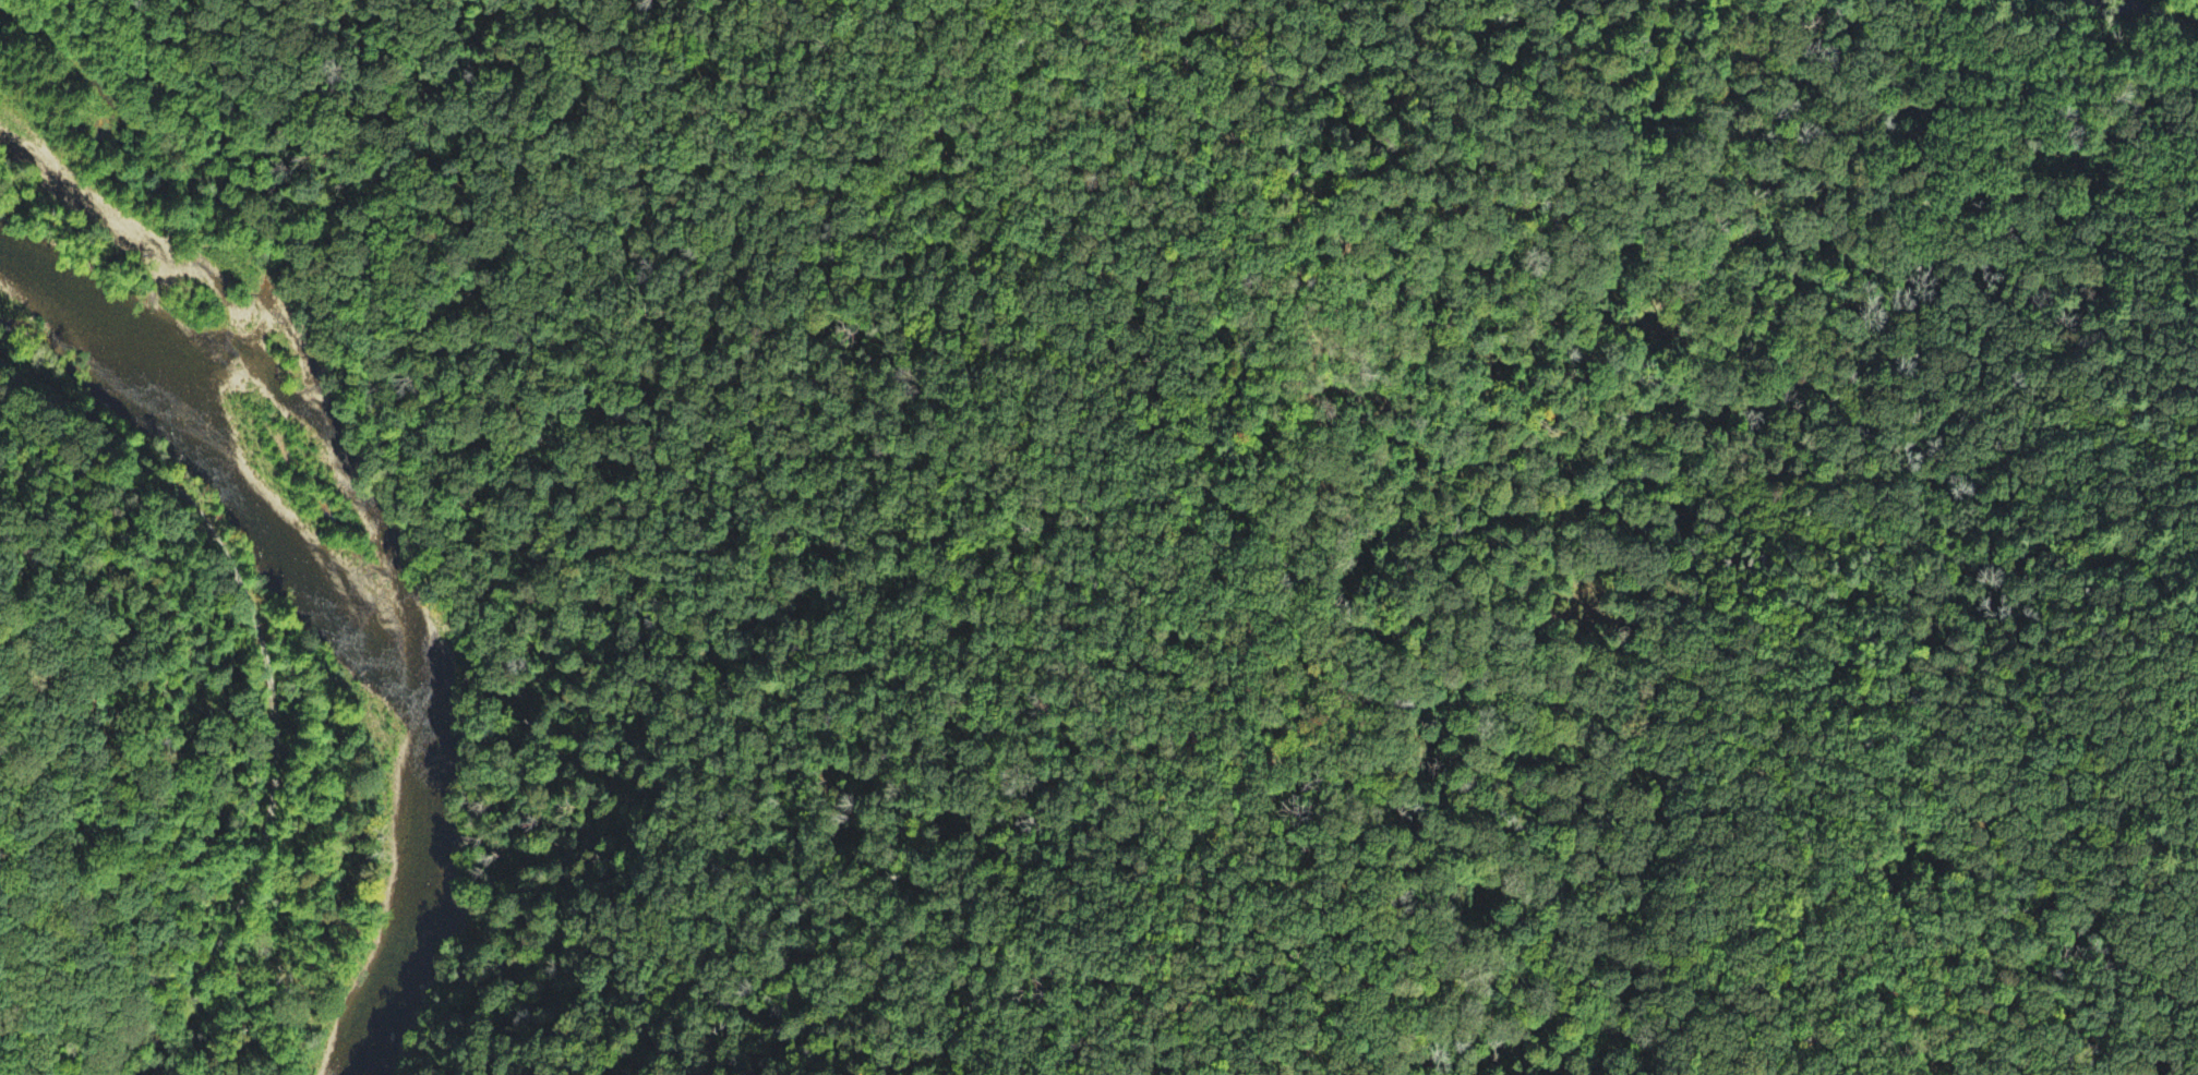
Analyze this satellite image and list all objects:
river: (348, 627)
road: (257, 692)

